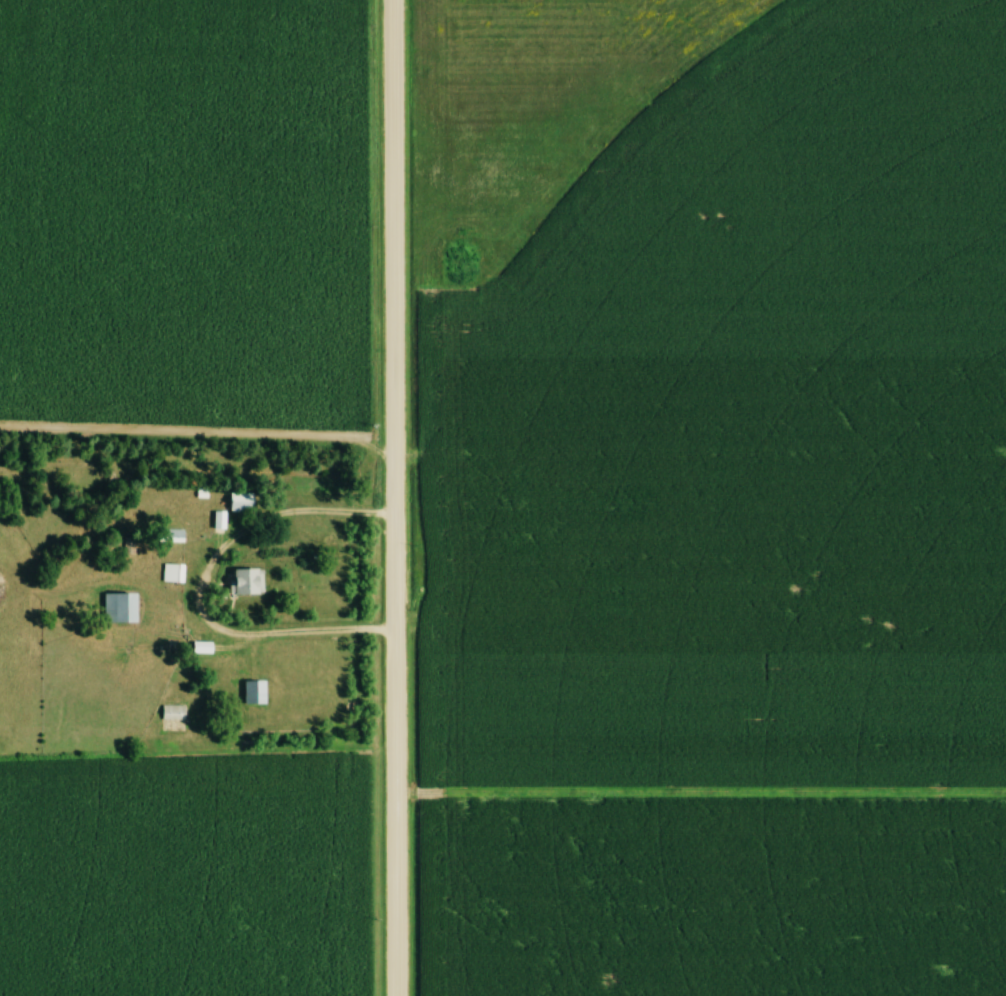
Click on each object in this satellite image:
road: (387, 498)
building: (242, 501)
building: (176, 536)
building: (130, 547)
building: (174, 572)
building: (250, 580)
road: (195, 584)
building: (122, 607)
building: (205, 647)
building: (256, 691)
building: (174, 712)

